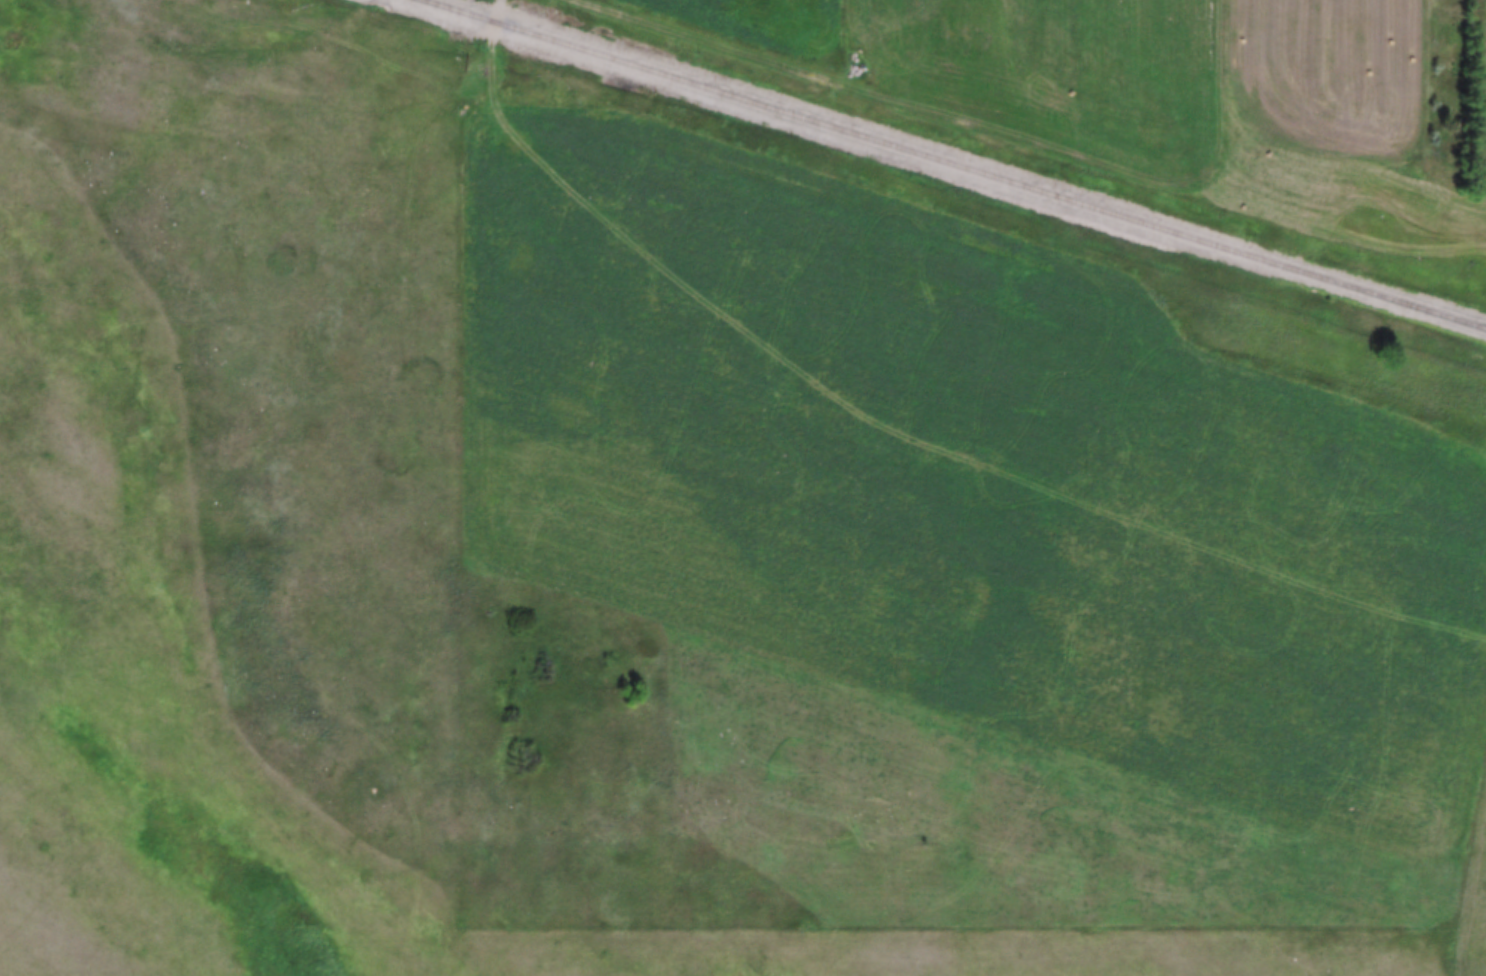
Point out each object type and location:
road: (479, 53)
railway: (947, 164)

